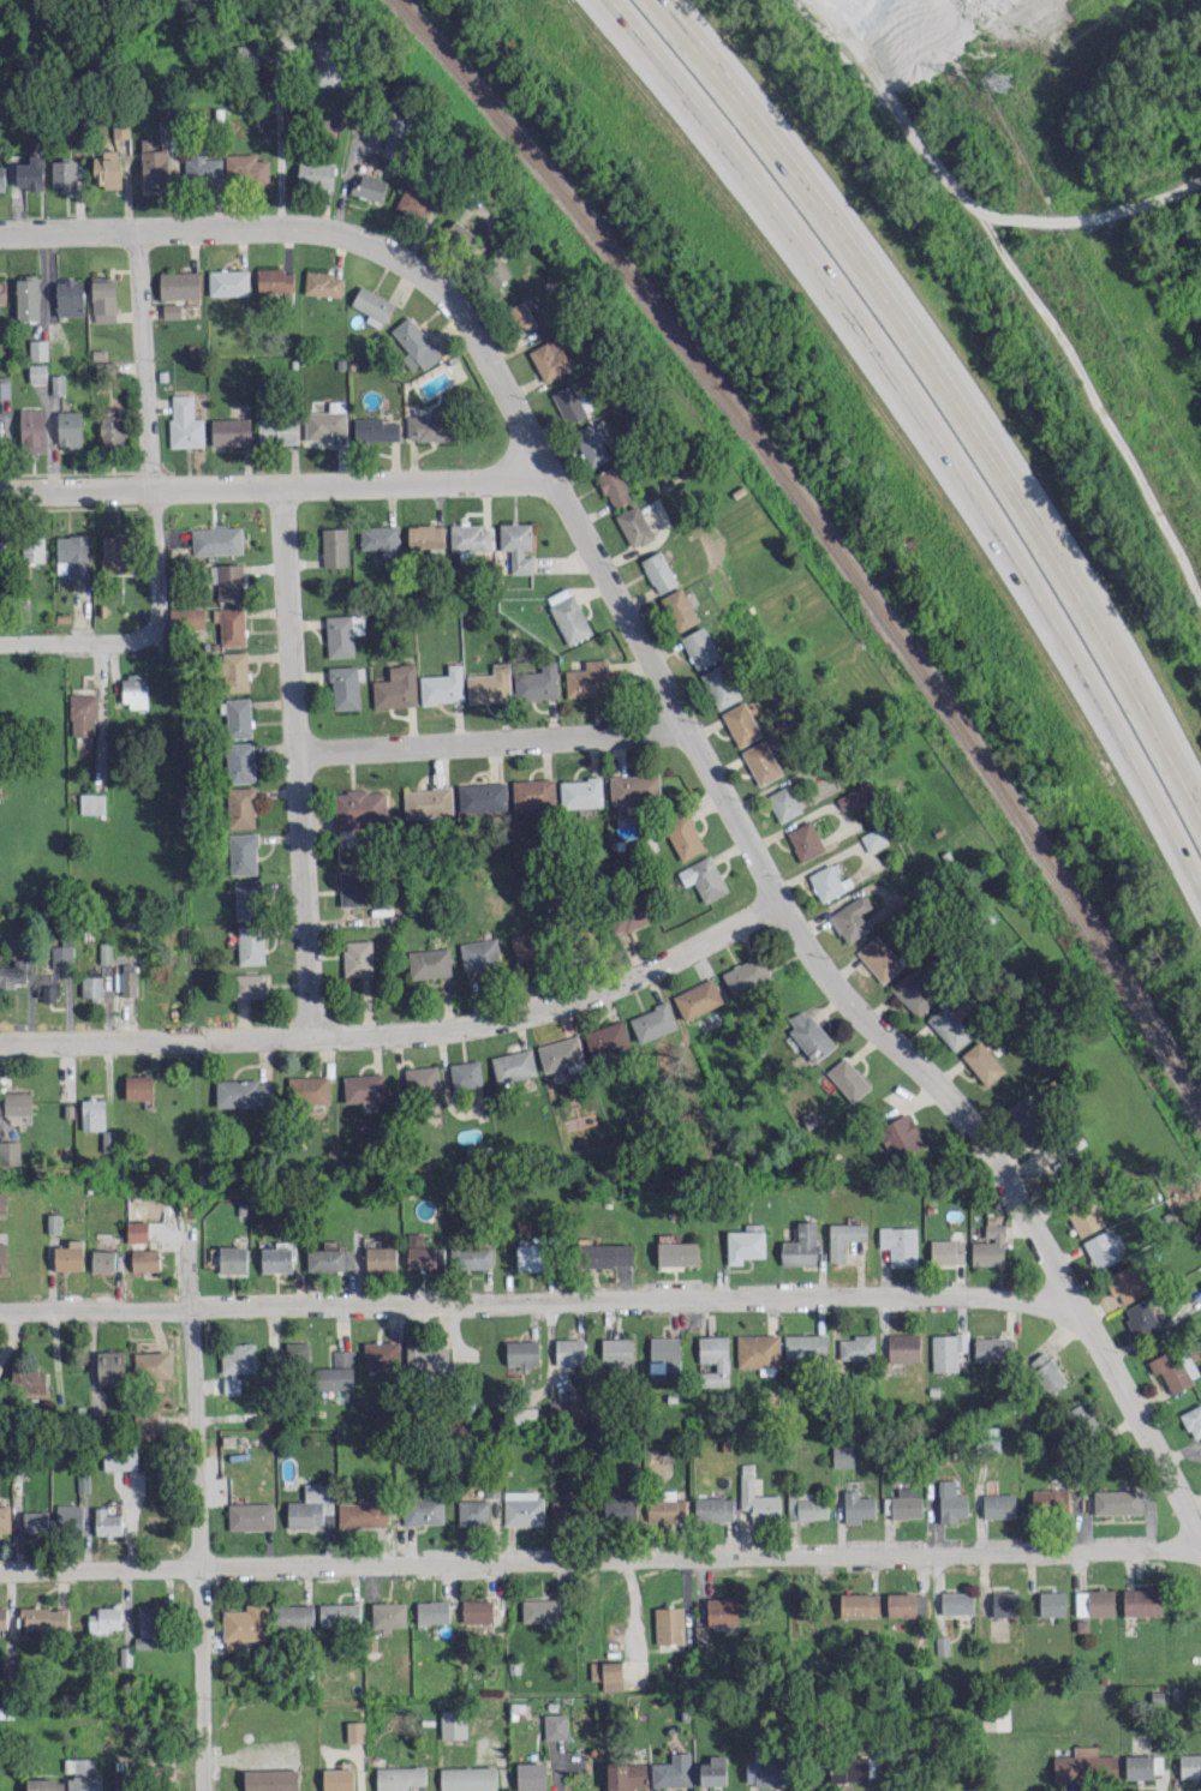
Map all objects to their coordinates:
quarry: (904, 37)
building: (247, 55)
building: (325, 60)
road: (721, 83)
power tower: (996, 84)
road: (683, 94)
building: (120, 128)
building: (390, 144)
building: (154, 167)
building: (107, 168)
building: (202, 168)
building: (245, 168)
building: (30, 173)
building: (315, 173)
building: (64, 174)
building: (1, 178)
building: (369, 186)
building: (414, 203)
building: (459, 233)
building: (495, 270)
building: (275, 280)
building: (228, 282)
building: (323, 283)
building: (179, 284)
building: (2, 290)
building: (26, 296)
building: (68, 296)
building: (103, 299)
building: (372, 305)
building: (171, 310)
building: (520, 315)
building: (414, 343)
building: (37, 349)
building: (550, 358)
building: (37, 372)
building: (58, 383)
building: (4, 387)
building: (570, 402)
building: (184, 421)
building: (327, 424)
building: (429, 426)
building: (0, 427)
building: (68, 427)
road: (149, 429)
building: (277, 429)
building: (375, 429)
building: (32, 430)
building: (112, 430)
building: (231, 431)
building: (593, 442)
road: (275, 485)
building: (614, 486)
road: (1005, 487)
building: (634, 525)
road: (997, 527)
building: (425, 535)
railway: (827, 535)
building: (470, 537)
building: (380, 539)
building: (216, 540)
building: (518, 545)
building: (334, 546)
building: (1, 549)
building: (32, 550)
building: (116, 553)
building: (72, 556)
building: (658, 571)
building: (227, 580)
building: (679, 609)
building: (568, 615)
building: (189, 617)
building: (231, 624)
building: (342, 633)
road: (76, 640)
building: (700, 647)
building: (235, 670)
building: (587, 678)
building: (537, 682)
building: (490, 684)
building: (442, 685)
building: (721, 685)
building: (345, 687)
building: (396, 687)
building: (133, 690)
building: (83, 714)
building: (237, 715)
building: (741, 723)
road: (689, 730)
road: (492, 741)
road: (299, 760)
building: (239, 761)
building: (761, 761)
building: (634, 787)
building: (533, 792)
building: (581, 792)
building: (855, 795)
building: (482, 796)
building: (91, 802)
building: (426, 802)
building: (783, 802)
building: (240, 807)
building: (360, 808)
building: (683, 835)
building: (873, 838)
building: (805, 840)
building: (243, 852)
building: (346, 853)
building: (704, 877)
building: (826, 881)
building: (352, 887)
building: (246, 898)
building: (628, 917)
building: (852, 918)
building: (250, 944)
building: (525, 945)
building: (104, 952)
building: (62, 953)
building: (479, 954)
building: (358, 957)
building: (879, 958)
building: (429, 962)
building: (14, 972)
building: (746, 975)
building: (129, 980)
building: (249, 984)
building: (47, 986)
building: (91, 987)
building: (913, 990)
building: (698, 998)
building: (653, 1022)
building: (949, 1026)
road: (404, 1031)
building: (808, 1034)
building: (607, 1037)
building: (560, 1053)
building: (982, 1061)
building: (514, 1065)
building: (465, 1074)
building: (422, 1078)
building: (848, 1078)
building: (138, 1086)
building: (364, 1086)
building: (309, 1089)
building: (245, 1092)
building: (18, 1102)
building: (92, 1113)
building: (1026, 1120)
building: (900, 1134)
building: (108, 1139)
building: (10, 1151)
building: (2, 1202)
building: (1085, 1216)
building: (53, 1222)
building: (137, 1230)
building: (843, 1238)
building: (745, 1242)
building: (898, 1244)
building: (800, 1245)
building: (988, 1246)
building: (1105, 1247)
building: (946, 1251)
building: (2, 1252)
building: (677, 1252)
building: (424, 1253)
building: (530, 1253)
building: (70, 1254)
building: (604, 1254)
building: (476, 1257)
building: (233, 1258)
building: (381, 1258)
building: (103, 1259)
building: (145, 1259)
building: (276, 1259)
building: (325, 1259)
building: (1124, 1282)
building: (1200, 1282)
road: (539, 1300)
building: (1140, 1317)
building: (805, 1346)
building: (856, 1347)
building: (903, 1347)
building: (992, 1348)
building: (569, 1350)
building: (616, 1350)
building: (946, 1350)
building: (297, 1352)
building: (521, 1352)
building: (664, 1352)
building: (758, 1352)
building: (381, 1353)
building: (239, 1358)
building: (428, 1358)
building: (713, 1359)
building: (153, 1364)
building: (110, 1367)
building: (1175, 1368)
building: (336, 1371)
building: (1046, 1371)
building: (28, 1379)
building: (563, 1412)
building: (524, 1415)
building: (1193, 1420)
building: (144, 1421)
building: (992, 1437)
building: (842, 1455)
building: (120, 1457)
building: (757, 1496)
building: (1048, 1499)
building: (1117, 1501)
building: (950, 1502)
building: (902, 1503)
building: (998, 1504)
building: (310, 1505)
building: (806, 1505)
building: (522, 1507)
building: (856, 1507)
building: (619, 1508)
building: (667, 1508)
building: (713, 1508)
road: (202, 1509)
building: (568, 1509)
building: (422, 1510)
building: (362, 1511)
building: (472, 1511)
building: (68, 1514)
building: (250, 1515)
building: (5, 1520)
building: (35, 1521)
building: (107, 1522)
road: (600, 1559)
building: (956, 1601)
building: (1141, 1601)
building: (1004, 1603)
building: (1051, 1603)
building: (1094, 1603)
building: (859, 1604)
building: (906, 1604)
building: (542, 1610)
building: (722, 1610)
building: (432, 1611)
building: (477, 1611)
building: (388, 1613)
building: (339, 1615)
building: (2, 1616)
building: (293, 1616)
building: (42, 1617)
building: (104, 1618)
building: (669, 1624)
building: (244, 1625)
building: (145, 1628)
building: (700, 1634)
building: (942, 1645)
building: (8, 1667)
building: (608, 1673)
building: (453, 1723)
building: (555, 1726)
building: (355, 1731)
building: (1085, 1763)
building: (1143, 1765)
building: (1190, 1765)
building: (849, 1767)
building: (673, 1771)
building: (713, 1771)
building: (765, 1772)
building: (80, 1775)
building: (531, 1775)
building: (627, 1775)
building: (400, 1777)
building: (161, 1778)
building: (467, 1778)
building: (271, 1779)
building: (339, 1779)
building: (44, 1784)

